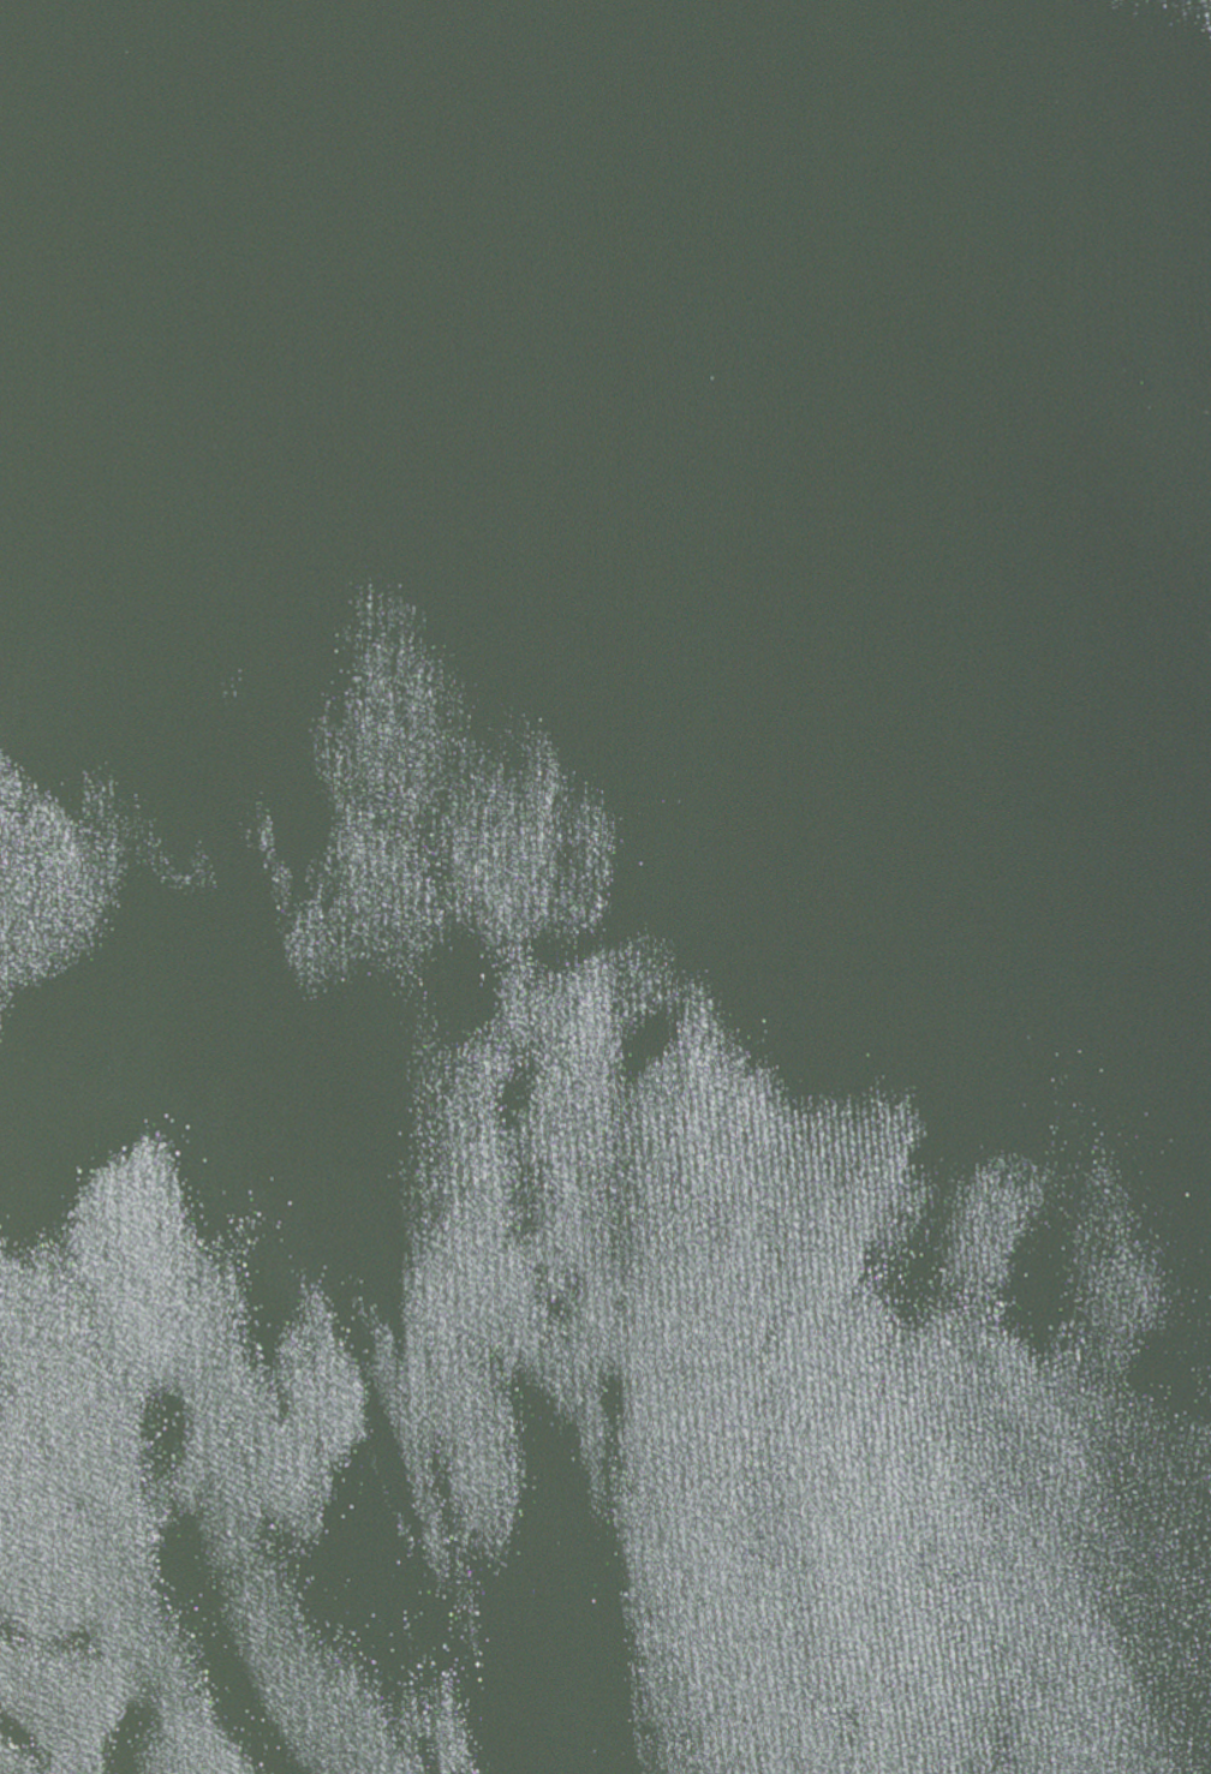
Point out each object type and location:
river: (1205, 17)

